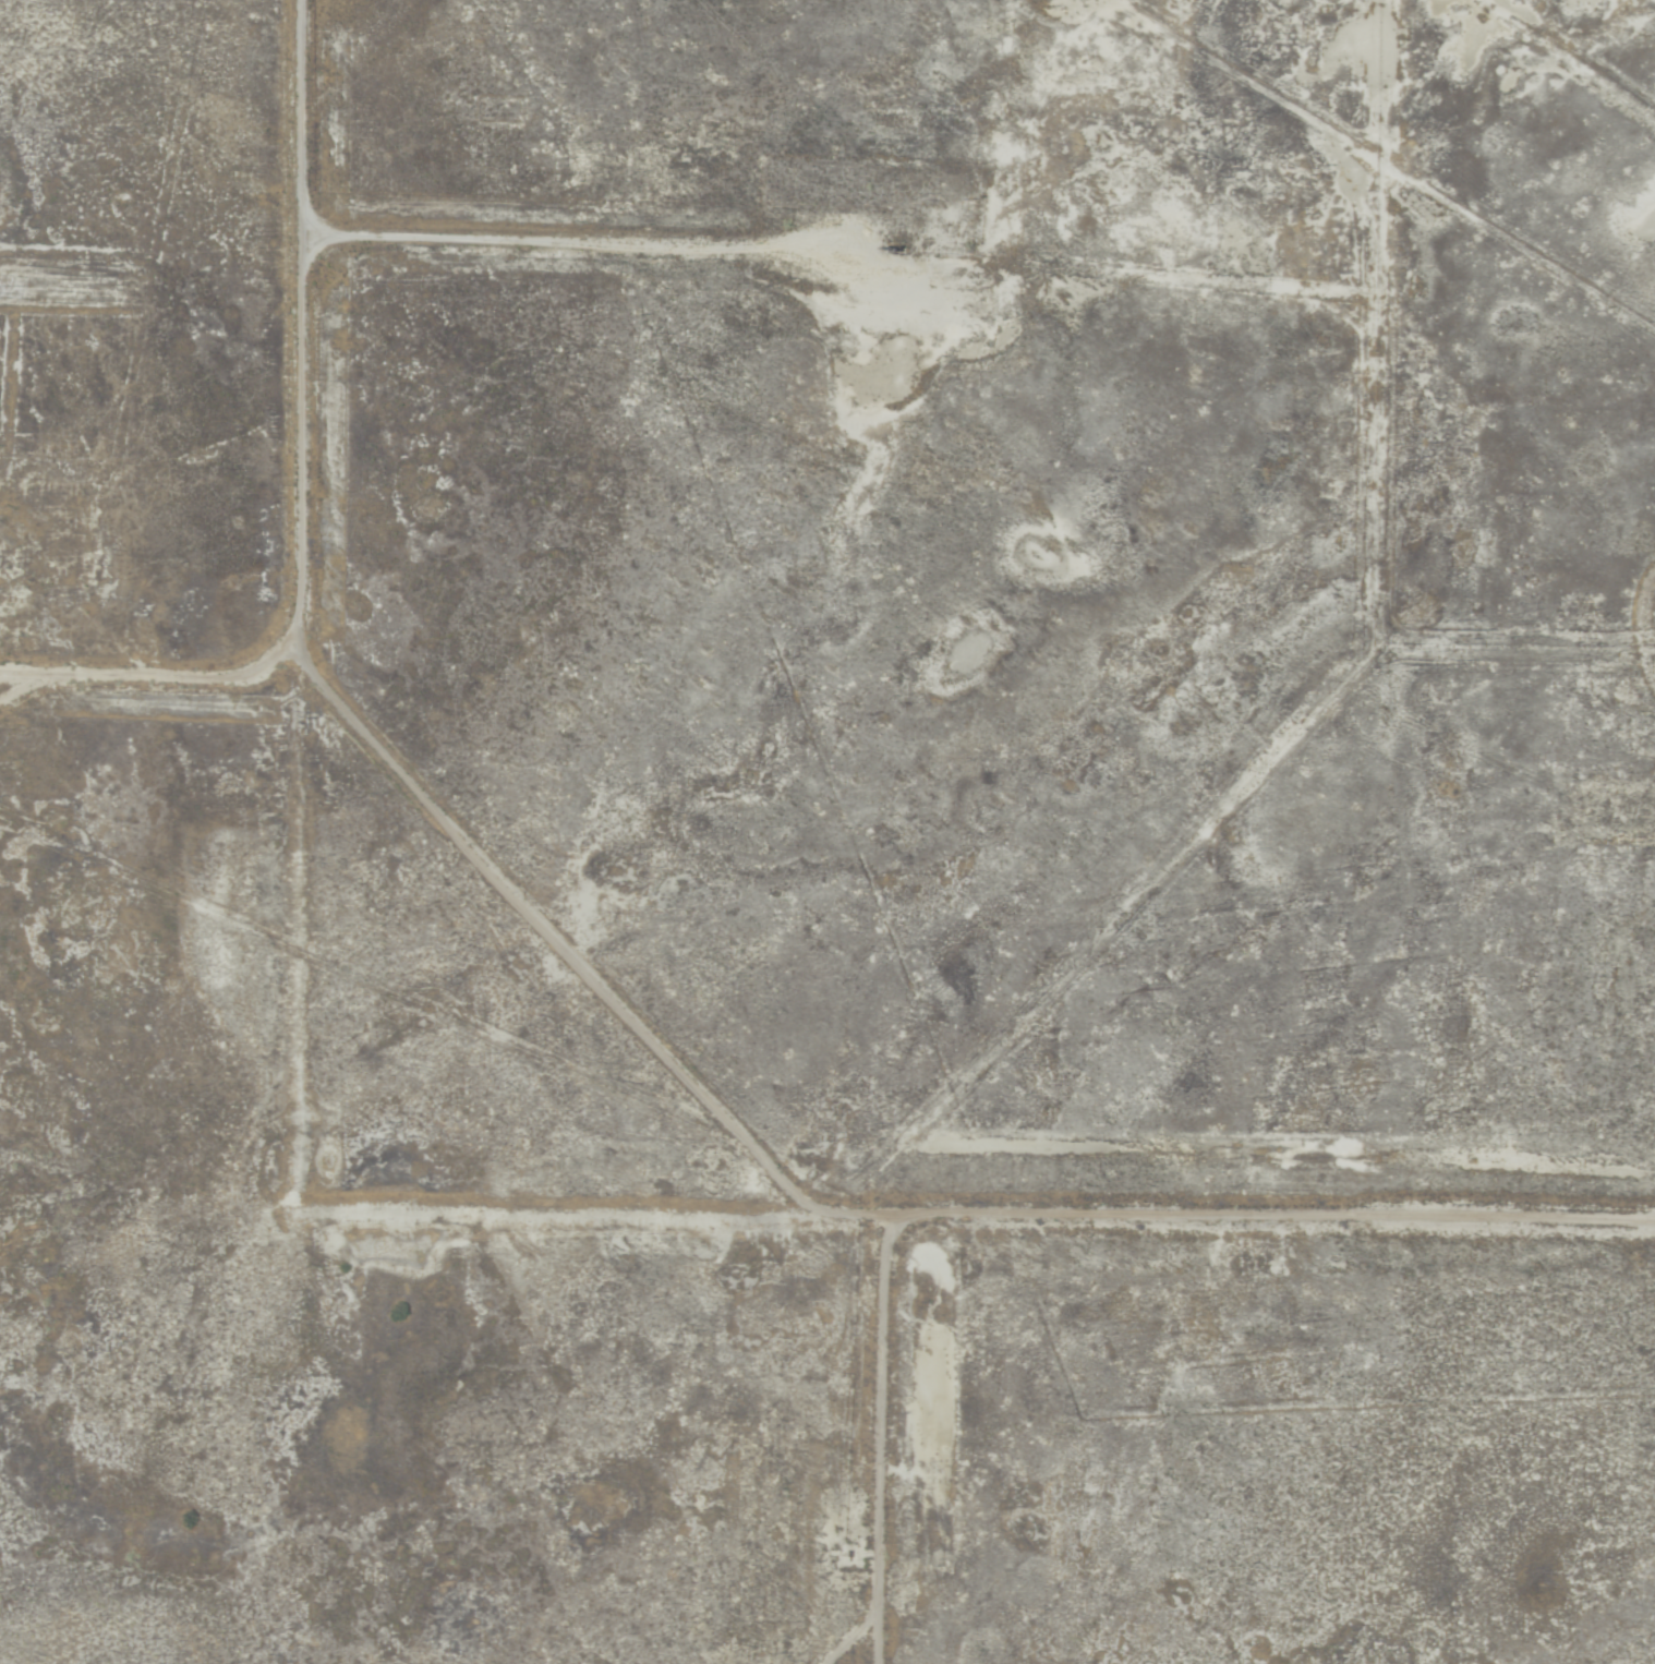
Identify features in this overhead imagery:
road: (47, 677)
road: (185, 680)
road: (328, 694)
road: (699, 1214)

